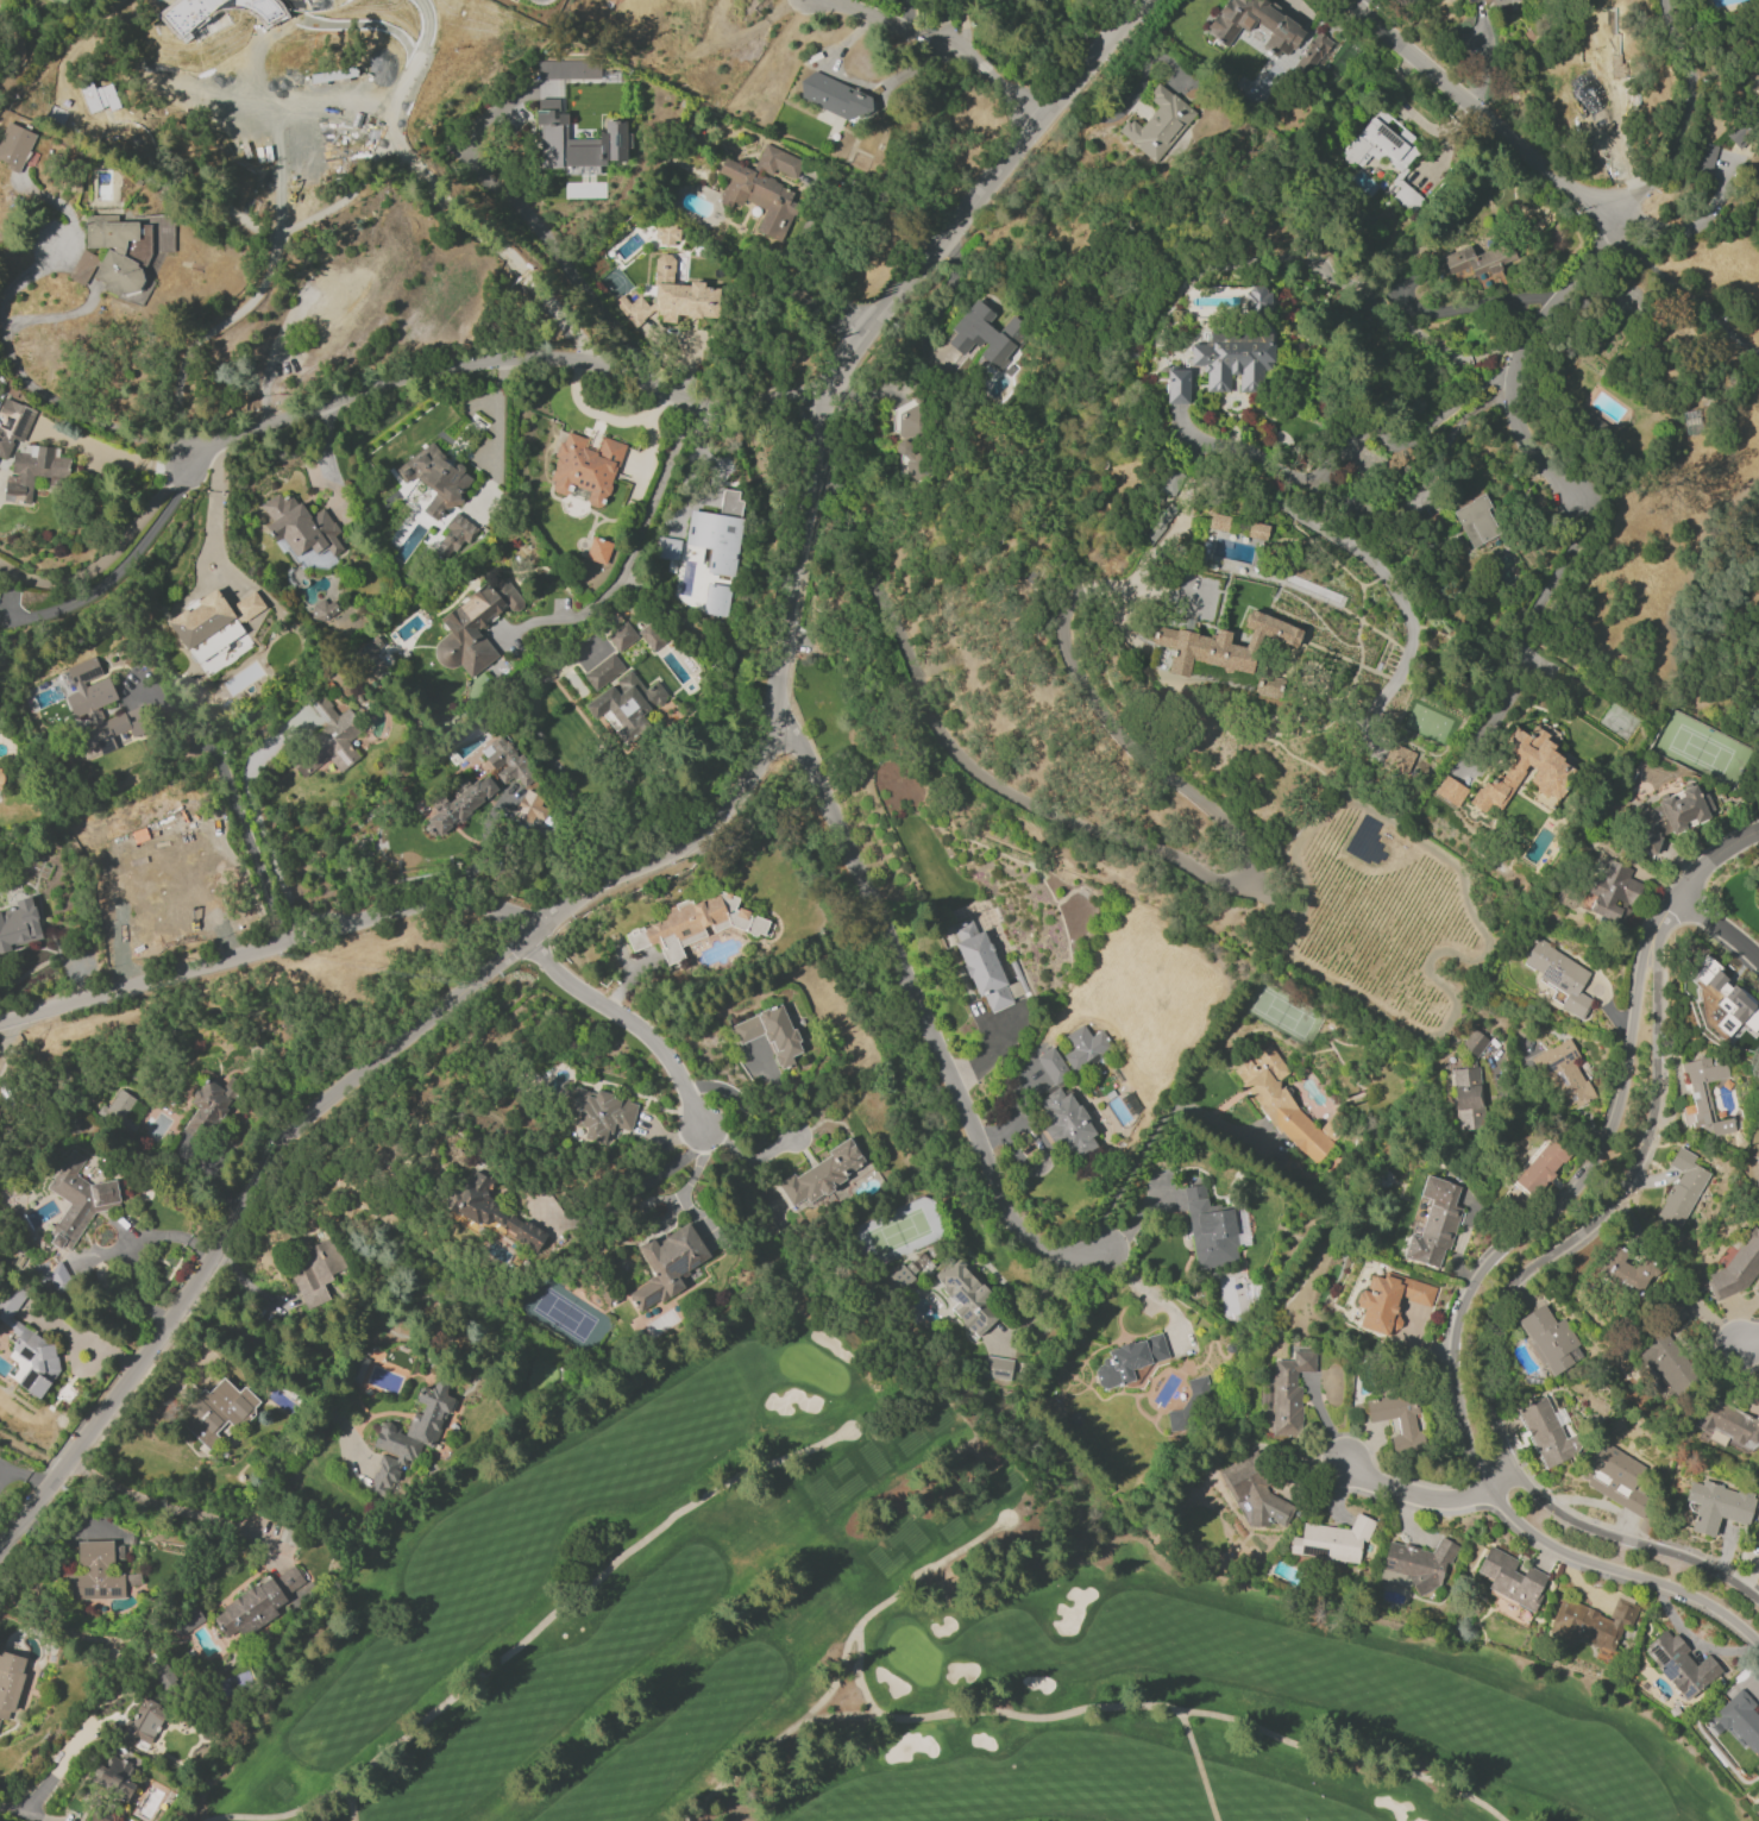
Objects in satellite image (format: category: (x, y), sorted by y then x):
building: (187, 0)
building: (1469, 1)
building: (1495, 1)
building: (685, 2)
building: (641, 5)
road: (905, 14)
building: (245, 18)
building: (1252, 23)
road: (951, 25)
building: (1314, 52)
building: (567, 69)
road: (1004, 86)
building: (1590, 96)
building: (837, 100)
road: (1679, 115)
building: (1754, 115)
road: (1487, 119)
building: (68, 123)
building: (1158, 125)
building: (591, 126)
building: (1387, 136)
building: (574, 139)
building: (14, 145)
building: (1702, 156)
road: (434, 188)
building: (764, 189)
road: (1666, 230)
road: (541, 234)
building: (667, 234)
building: (112, 253)
building: (1474, 260)
road: (23, 278)
road: (946, 283)
road: (1676, 288)
building: (344, 294)
building: (672, 297)
building: (1255, 299)
road: (798, 301)
building: (986, 337)
building: (1233, 359)
road: (503, 362)
road: (1515, 368)
building: (1177, 385)
road: (78, 415)
building: (13, 425)
road: (1452, 431)
building: (586, 467)
building: (33, 471)
building: (435, 478)
building: (1168, 482)
road: (213, 502)
building: (729, 502)
building: (1476, 521)
building: (1219, 522)
building: (1158, 523)
building: (1238, 526)
building: (1258, 530)
building: (302, 532)
building: (453, 535)
building: (723, 540)
building: (666, 548)
building: (598, 551)
road: (635, 551)
road: (108, 553)
road: (117, 569)
building: (715, 599)
building: (321, 610)
building: (213, 622)
building: (473, 628)
building: (622, 636)
building: (651, 636)
road: (1521, 639)
building: (1220, 645)
building: (369, 657)
building: (604, 672)
building: (1269, 686)
building: (628, 697)
building: (95, 714)
building: (323, 737)
building: (1397, 760)
building: (509, 762)
road: (555, 767)
building: (1525, 771)
building: (1, 778)
building: (1450, 790)
building: (460, 803)
building: (529, 806)
building: (1673, 816)
road: (244, 828)
building: (159, 854)
road: (1179, 860)
road: (1695, 878)
road: (609, 879)
building: (1613, 890)
building: (1758, 893)
building: (1757, 897)
building: (1758, 900)
building: (18, 924)
building: (693, 925)
road: (1720, 928)
road: (272, 944)
building: (984, 967)
building: (1559, 975)
building: (1723, 998)
road: (919, 1015)
road: (628, 1021)
building: (771, 1034)
road: (6, 1036)
building: (1475, 1043)
building: (1086, 1047)
building: (1053, 1067)
building: (1564, 1074)
building: (1704, 1097)
building: (1469, 1099)
building: (211, 1104)
building: (1281, 1104)
building: (124, 1110)
building: (599, 1113)
building: (1067, 1124)
building: (1543, 1167)
building: (822, 1174)
road: (647, 1181)
building: (1682, 1189)
building: (80, 1199)
building: (489, 1210)
building: (1434, 1225)
building: (1210, 1229)
building: (668, 1264)
building: (1736, 1268)
building: (316, 1269)
building: (1626, 1271)
building: (55, 1273)
building: (902, 1276)
building: (1419, 1293)
building: (968, 1296)
building: (1377, 1304)
building: (1670, 1314)
road: (1497, 1320)
building: (1550, 1338)
road: (1749, 1344)
road: (1458, 1345)
building: (27, 1348)
road: (283, 1355)
building: (1130, 1360)
building: (1664, 1363)
building: (998, 1369)
building: (1289, 1393)
building: (1189, 1404)
building: (216, 1412)
building: (1399, 1418)
building: (1728, 1421)
building: (1546, 1431)
building: (410, 1434)
building: (1616, 1478)
building: (1256, 1488)
road: (1431, 1500)
building: (1719, 1506)
road: (172, 1508)
building: (1758, 1539)
building: (1332, 1541)
building: (1420, 1563)
building: (95, 1574)
building: (1512, 1580)
road: (893, 1601)
building: (257, 1605)
building: (187, 1622)
building: (1595, 1622)
road: (538, 1633)
park: (898, 1640)
building: (1681, 1664)
building: (10, 1682)
road: (837, 1683)
road: (917, 1720)
building: (1742, 1721)
building: (140, 1725)
road: (1345, 1760)
road: (57, 1766)
road: (1200, 1767)
building: (113, 1788)
road: (353, 1806)
road: (23, 1813)
building: (95, 1817)

